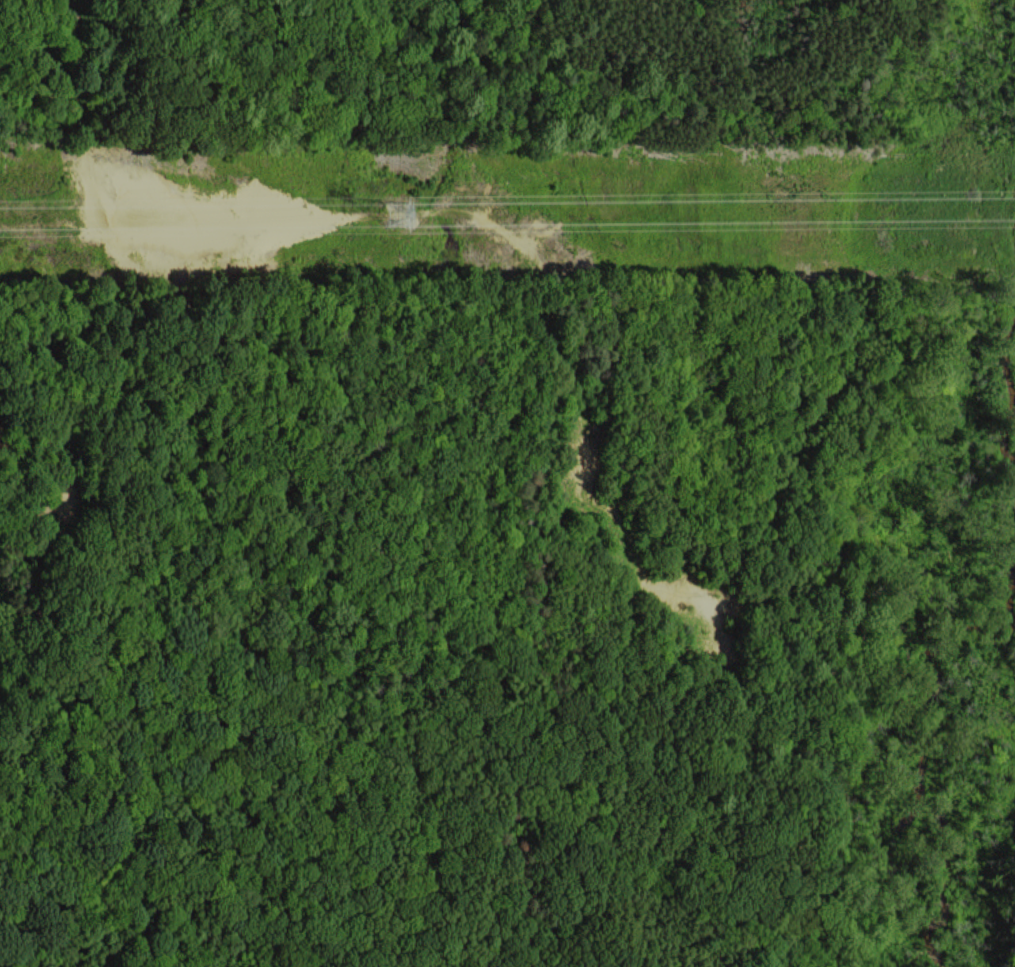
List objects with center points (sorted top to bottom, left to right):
power tower: (398, 211)

